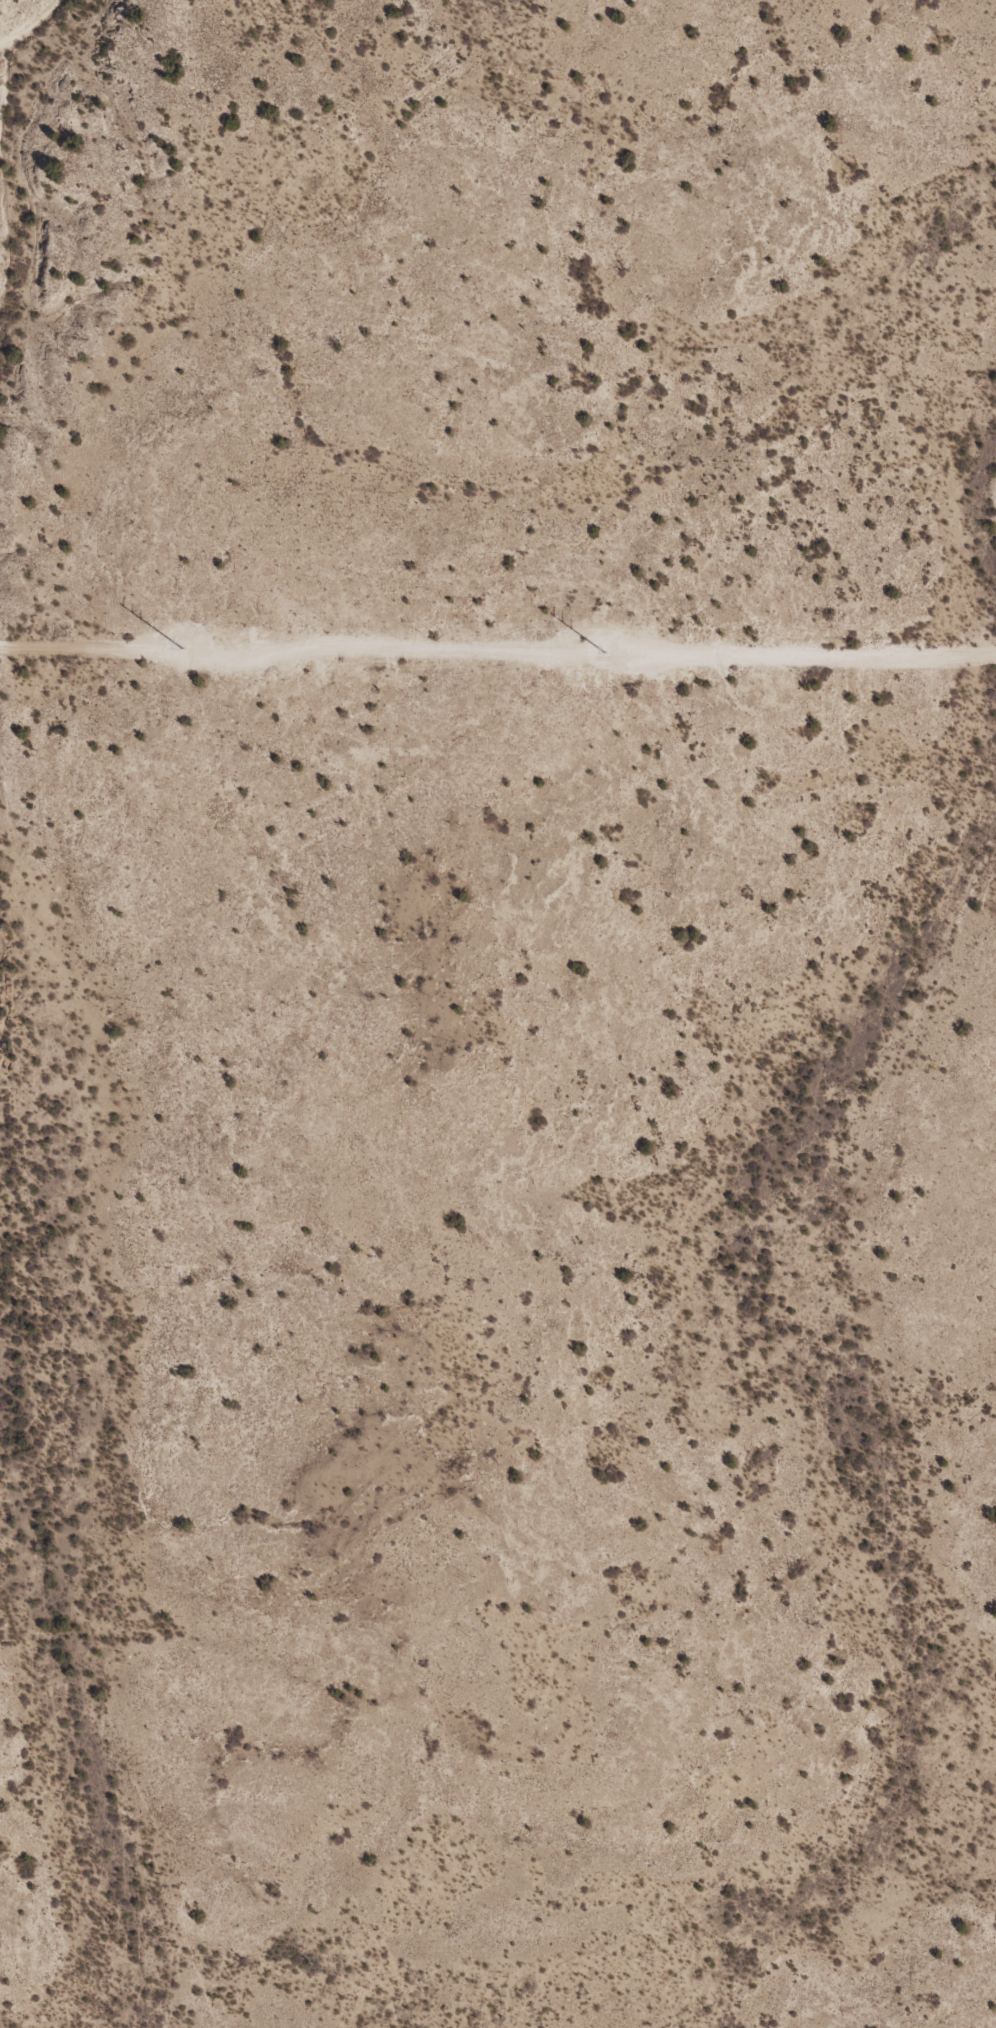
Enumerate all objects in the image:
power tower: (254, 652)
power tower: (643, 656)

